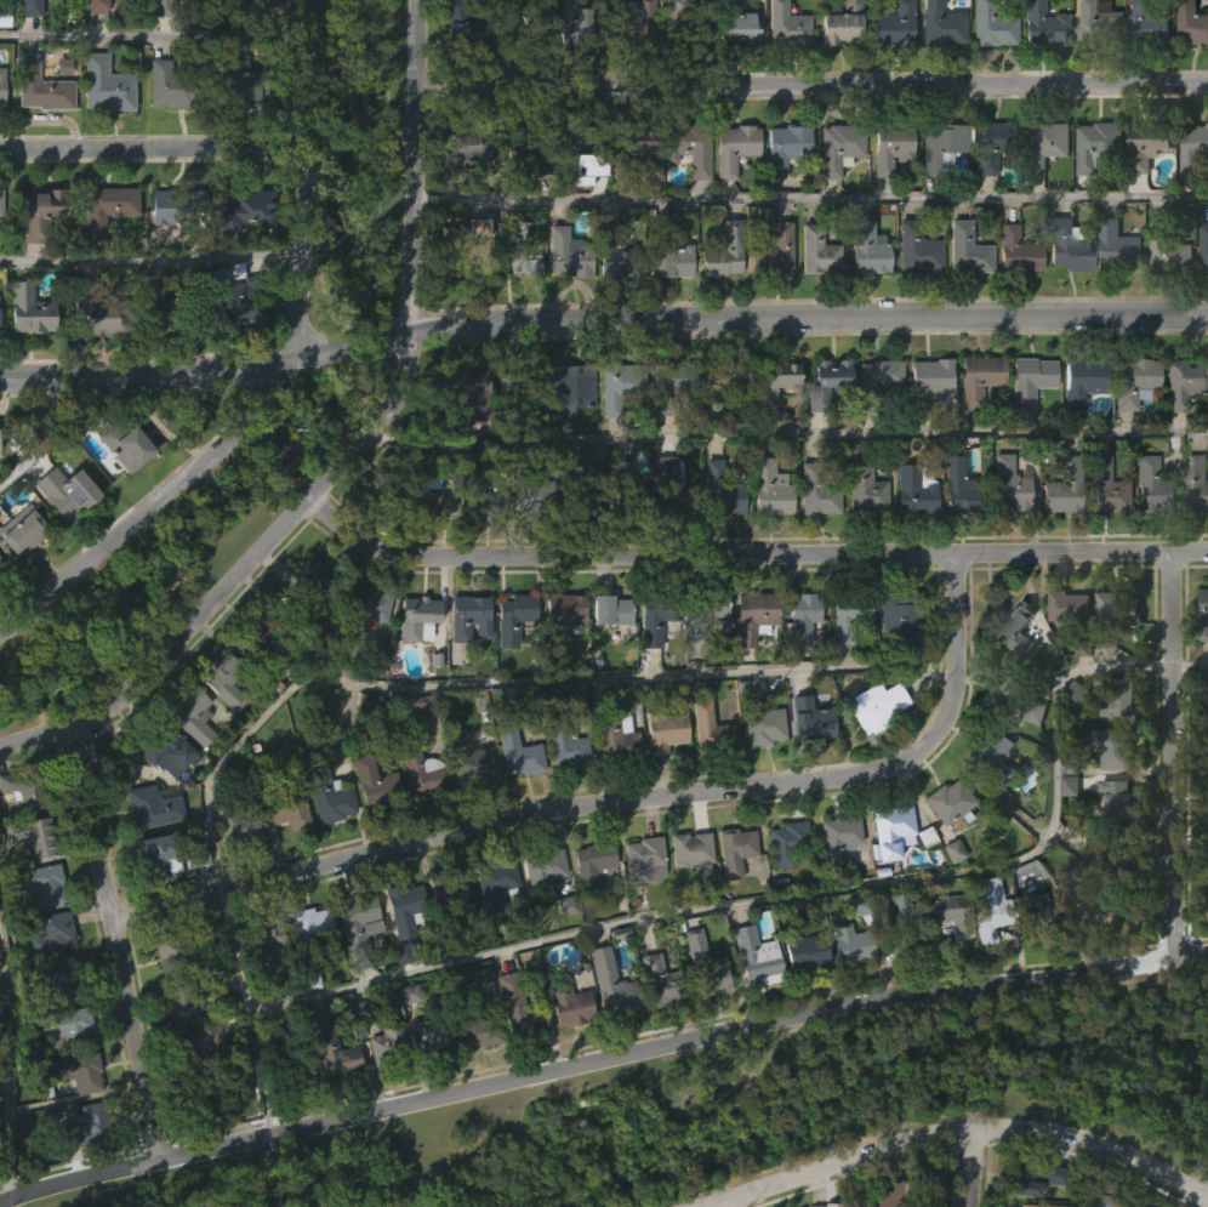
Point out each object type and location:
building: (260, 2)
building: (106, 5)
building: (35, 8)
building: (165, 8)
building: (6, 16)
building: (580, 21)
building: (632, 22)
building: (685, 22)
building: (1094, 23)
building: (1145, 23)
building: (1192, 23)
building: (518, 24)
building: (838, 24)
building: (890, 24)
building: (784, 25)
building: (939, 25)
building: (990, 25)
building: (1042, 25)
building: (251, 27)
building: (463, 27)
building: (740, 28)
building: (39, 32)
building: (107, 33)
building: (167, 33)
road: (153, 36)
building: (2, 66)
building: (628, 67)
building: (1090, 67)
building: (570, 68)
building: (935, 69)
building: (458, 70)
building: (781, 70)
building: (986, 70)
building: (1037, 70)
building: (1189, 70)
building: (837, 72)
building: (889, 72)
building: (1143, 72)
building: (734, 76)
building: (240, 81)
building: (109, 85)
road: (813, 85)
building: (180, 86)
building: (4, 87)
building: (45, 87)
building: (0, 127)
building: (237, 129)
building: (102, 133)
building: (164, 133)
building: (36, 135)
building: (1150, 143)
building: (786, 144)
building: (987, 146)
building: (1044, 146)
road: (152, 147)
building: (691, 147)
building: (838, 147)
building: (890, 147)
building: (942, 147)
building: (1096, 147)
building: (526, 148)
building: (733, 148)
building: (468, 149)
building: (576, 149)
building: (623, 149)
building: (1192, 149)
building: (629, 188)
building: (936, 193)
building: (988, 193)
building: (1042, 193)
building: (781, 194)
building: (1093, 194)
building: (1143, 194)
building: (685, 195)
road: (811, 195)
building: (834, 195)
building: (729, 197)
building: (887, 197)
building: (1190, 197)
building: (455, 200)
building: (517, 200)
building: (1, 201)
building: (177, 205)
building: (106, 207)
building: (245, 209)
building: (41, 212)
building: (580, 217)
building: (466, 244)
building: (1067, 245)
building: (517, 246)
building: (1117, 246)
building: (1203, 246)
building: (1166, 247)
building: (815, 249)
building: (868, 249)
building: (914, 249)
building: (173, 250)
building: (720, 250)
building: (770, 250)
building: (965, 250)
building: (1015, 251)
building: (565, 252)
building: (617, 252)
building: (103, 254)
building: (36, 258)
building: (240, 260)
building: (671, 260)
road: (150, 261)
building: (1201, 292)
building: (1065, 294)
building: (1113, 294)
building: (517, 297)
building: (862, 297)
building: (912, 297)
building: (962, 297)
building: (239, 298)
building: (1013, 298)
building: (768, 300)
building: (813, 300)
building: (563, 302)
building: (718, 303)
building: (1166, 303)
building: (165, 306)
building: (29, 308)
building: (610, 309)
building: (667, 309)
building: (101, 311)
building: (1, 317)
road: (602, 320)
building: (232, 351)
building: (155, 357)
building: (25, 359)
building: (92, 365)
road: (273, 371)
building: (976, 377)
building: (730, 378)
building: (874, 380)
building: (925, 380)
building: (1027, 380)
building: (1086, 380)
building: (1184, 380)
building: (774, 381)
building: (824, 381)
building: (1134, 382)
building: (668, 383)
building: (515, 385)
building: (620, 386)
building: (566, 387)
building: (465, 388)
building: (827, 420)
building: (876, 422)
building: (666, 425)
building: (724, 425)
building: (974, 426)
building: (773, 427)
building: (924, 427)
building: (1025, 428)
building: (1078, 428)
building: (1180, 428)
road: (790, 429)
building: (1129, 429)
building: (614, 433)
road: (45, 435)
building: (565, 437)
building: (460, 439)
building: (131, 442)
building: (814, 446)
road: (352, 451)
building: (1007, 483)
building: (1195, 483)
building: (1104, 485)
building: (1152, 485)
building: (580, 486)
building: (912, 486)
building: (958, 486)
building: (1061, 486)
building: (68, 488)
building: (388, 488)
building: (673, 488)
building: (767, 488)
building: (862, 488)
building: (719, 489)
building: (625, 491)
building: (815, 491)
building: (443, 493)
building: (121, 494)
building: (485, 494)
building: (534, 495)
building: (616, 516)
building: (23, 531)
building: (665, 531)
building: (1004, 531)
building: (1193, 531)
building: (1099, 533)
building: (953, 534)
building: (1058, 535)
building: (767, 536)
building: (1149, 536)
building: (861, 537)
building: (908, 539)
building: (62, 540)
building: (529, 545)
building: (475, 546)
building: (718, 546)
building: (815, 546)
building: (435, 548)
road: (748, 553)
building: (4, 571)
building: (313, 577)
building: (754, 604)
building: (707, 608)
building: (1070, 608)
building: (361, 609)
building: (611, 610)
building: (1119, 610)
building: (845, 614)
building: (902, 614)
building: (1204, 615)
building: (471, 616)
building: (511, 616)
building: (562, 616)
building: (1, 617)
building: (414, 617)
building: (653, 617)
building: (803, 617)
building: (310, 621)
building: (1019, 630)
building: (255, 636)
building: (1064, 654)
building: (705, 656)
building: (1111, 656)
building: (363, 657)
building: (606, 657)
road: (1190, 661)
building: (798, 662)
building: (1201, 662)
building: (559, 664)
building: (750, 664)
building: (466, 665)
building: (414, 666)
building: (893, 666)
building: (509, 668)
building: (843, 670)
building: (648, 673)
building: (223, 678)
road: (377, 682)
building: (253, 683)
building: (1014, 699)
building: (1115, 700)
building: (872, 706)
building: (190, 712)
building: (808, 719)
building: (760, 724)
building: (662, 728)
building: (711, 728)
building: (222, 733)
building: (614, 738)
building: (1073, 740)
building: (563, 744)
building: (1207, 745)
building: (163, 747)
building: (1111, 747)
building: (515, 752)
building: (872, 753)
building: (1015, 753)
road: (1173, 753)
building: (991, 755)
building: (468, 757)
building: (188, 763)
building: (804, 767)
building: (421, 768)
building: (706, 775)
building: (758, 775)
building: (661, 779)
building: (375, 784)
building: (612, 785)
building: (28, 787)
building: (325, 795)
building: (1207, 796)
building: (563, 797)
building: (1113, 797)
building: (946, 799)
building: (513, 801)
road: (616, 802)
building: (985, 802)
building: (153, 803)
building: (285, 807)
building: (463, 807)
building: (418, 820)
building: (238, 822)
building: (893, 830)
building: (370, 831)
building: (34, 835)
building: (1065, 835)
building: (836, 836)
building: (788, 841)
building: (1112, 846)
building: (689, 847)
building: (944, 848)
building: (326, 849)
building: (733, 849)
building: (158, 853)
building: (285, 859)
building: (640, 859)
building: (588, 865)
building: (541, 866)
building: (237, 875)
building: (885, 878)
building: (41, 882)
building: (492, 882)
building: (833, 886)
building: (446, 887)
building: (782, 890)
road: (786, 894)
building: (1207, 895)
building: (730, 898)
building: (688, 900)
building: (152, 904)
building: (1110, 904)
building: (403, 909)
building: (639, 909)
building: (588, 910)
building: (993, 910)
building: (1042, 912)
building: (951, 913)
building: (541, 916)
building: (355, 920)
building: (900, 921)
building: (307, 927)
building: (490, 930)
building: (260, 933)
building: (52, 934)
building: (446, 934)
road: (115, 941)
building: (849, 944)
building: (1207, 946)
building: (1032, 950)
building: (177, 951)
building: (808, 951)
building: (400, 956)
building: (757, 956)
building: (985, 957)
building: (945, 961)
building: (705, 966)
building: (354, 969)
building: (306, 970)
building: (659, 980)
building: (62, 984)
building: (612, 985)
building: (261, 986)
building: (910, 987)
building: (849, 992)
building: (690, 994)
building: (189, 996)
building: (167, 1000)
building: (800, 1001)
building: (398, 1002)
building: (565, 1002)
building: (752, 1006)
building: (517, 1007)
building: (475, 1025)
building: (707, 1026)
building: (70, 1027)
building: (655, 1029)
building: (606, 1032)
building: (433, 1035)
building: (389, 1044)
building: (199, 1047)
building: (514, 1054)
building: (566, 1054)
building: (332, 1057)
road: (600, 1059)
road: (7, 1060)
building: (78, 1071)
building: (472, 1080)
building: (428, 1083)
building: (383, 1091)
building: (200, 1097)
building: (331, 1104)
building: (300, 1123)
building: (85, 1126)
road: (956, 1131)
road: (971, 1168)
road: (1086, 1173)
building: (84, 1174)
building: (1035, 1177)
road: (854, 1183)
building: (906, 1194)
building: (1112, 1201)
road: (1203, 1201)
road: (723, 1203)
building: (1038, 1206)

